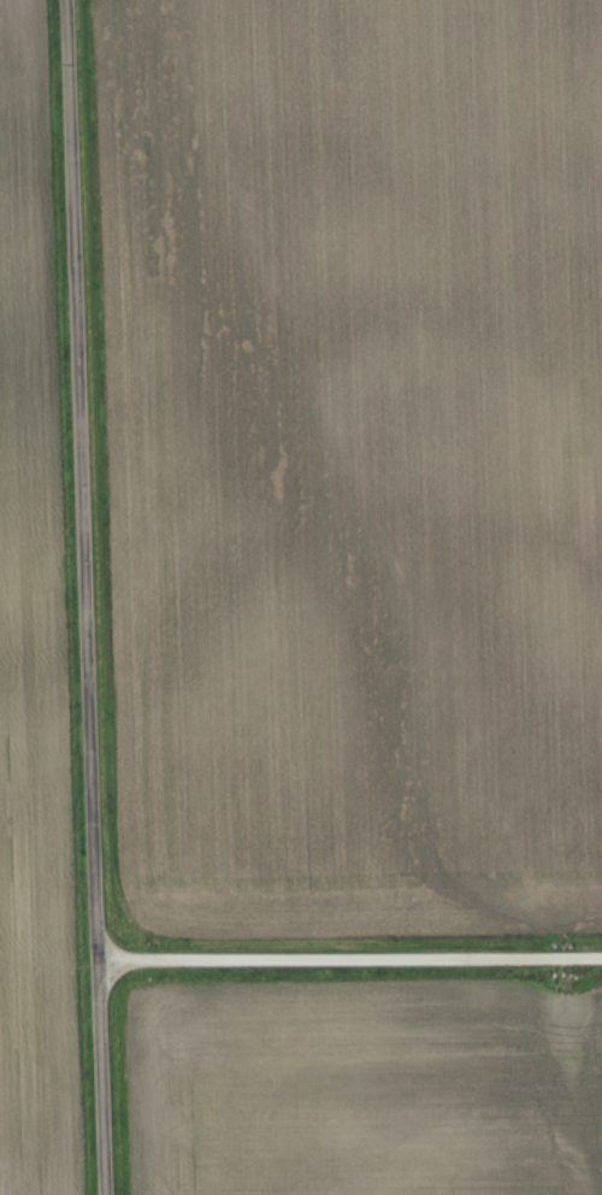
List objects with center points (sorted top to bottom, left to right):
crop: (353, 461)
road: (84, 597)
crop: (33, 657)
road: (350, 956)
crop: (362, 1087)

